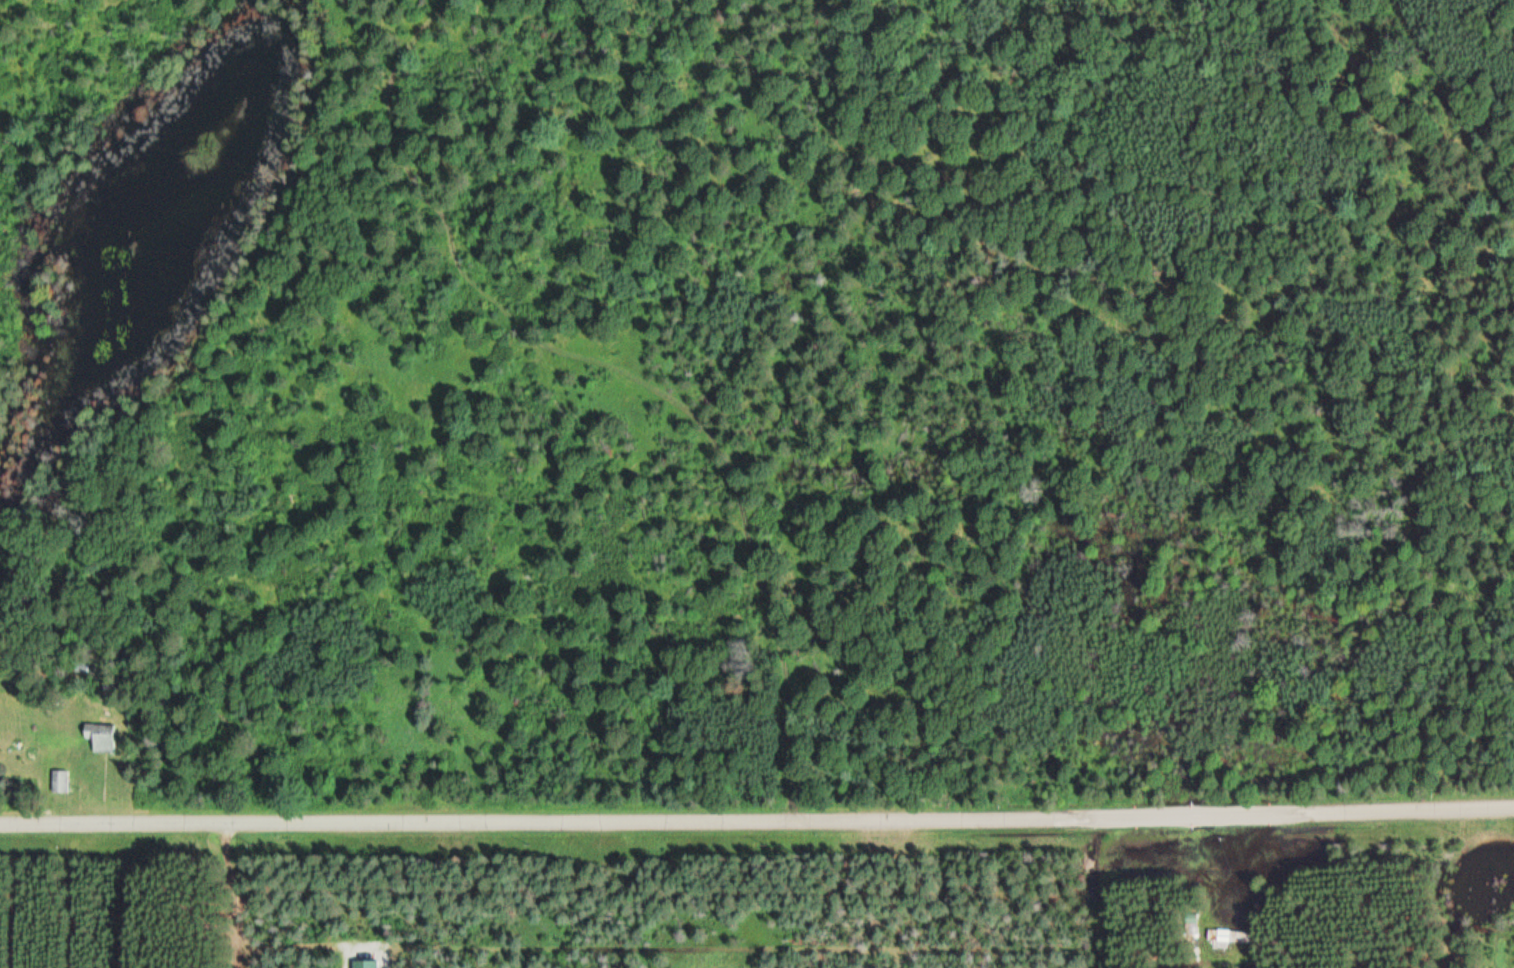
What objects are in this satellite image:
building: (101, 736)
building: (59, 781)
road: (757, 812)
road: (76, 894)
building: (1189, 923)
building: (1228, 935)

